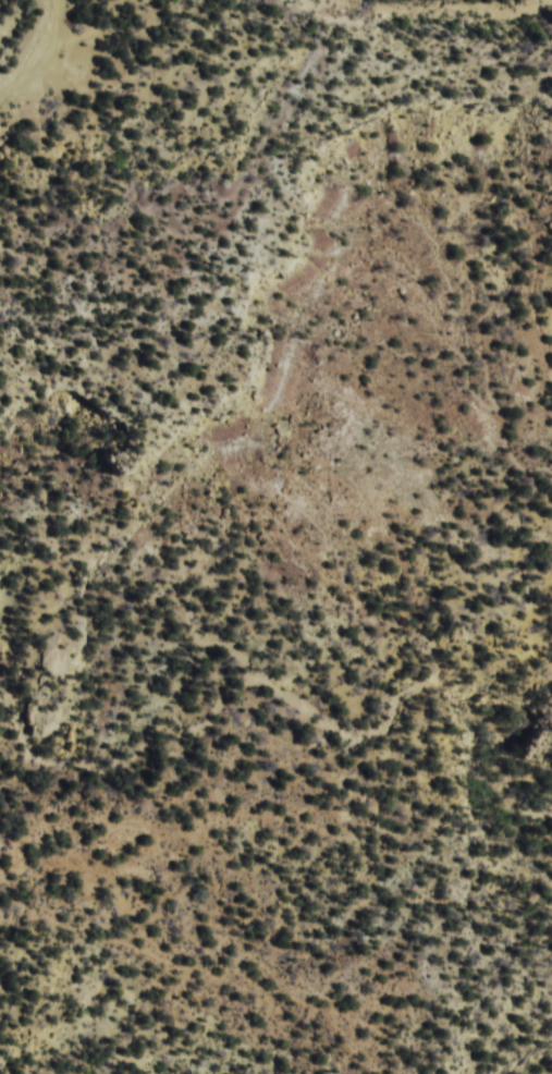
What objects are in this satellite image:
road: (393, 20)
road: (36, 46)

